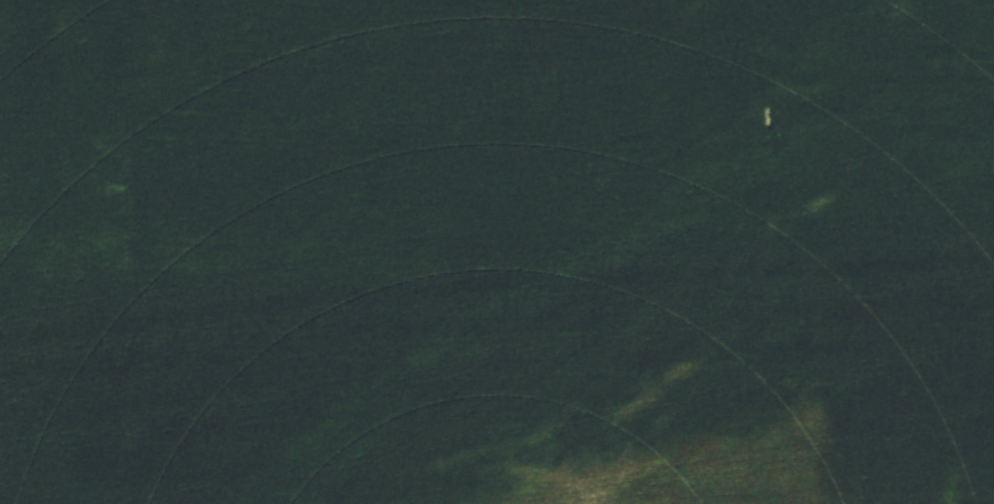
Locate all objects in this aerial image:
crop: (497, 252)

